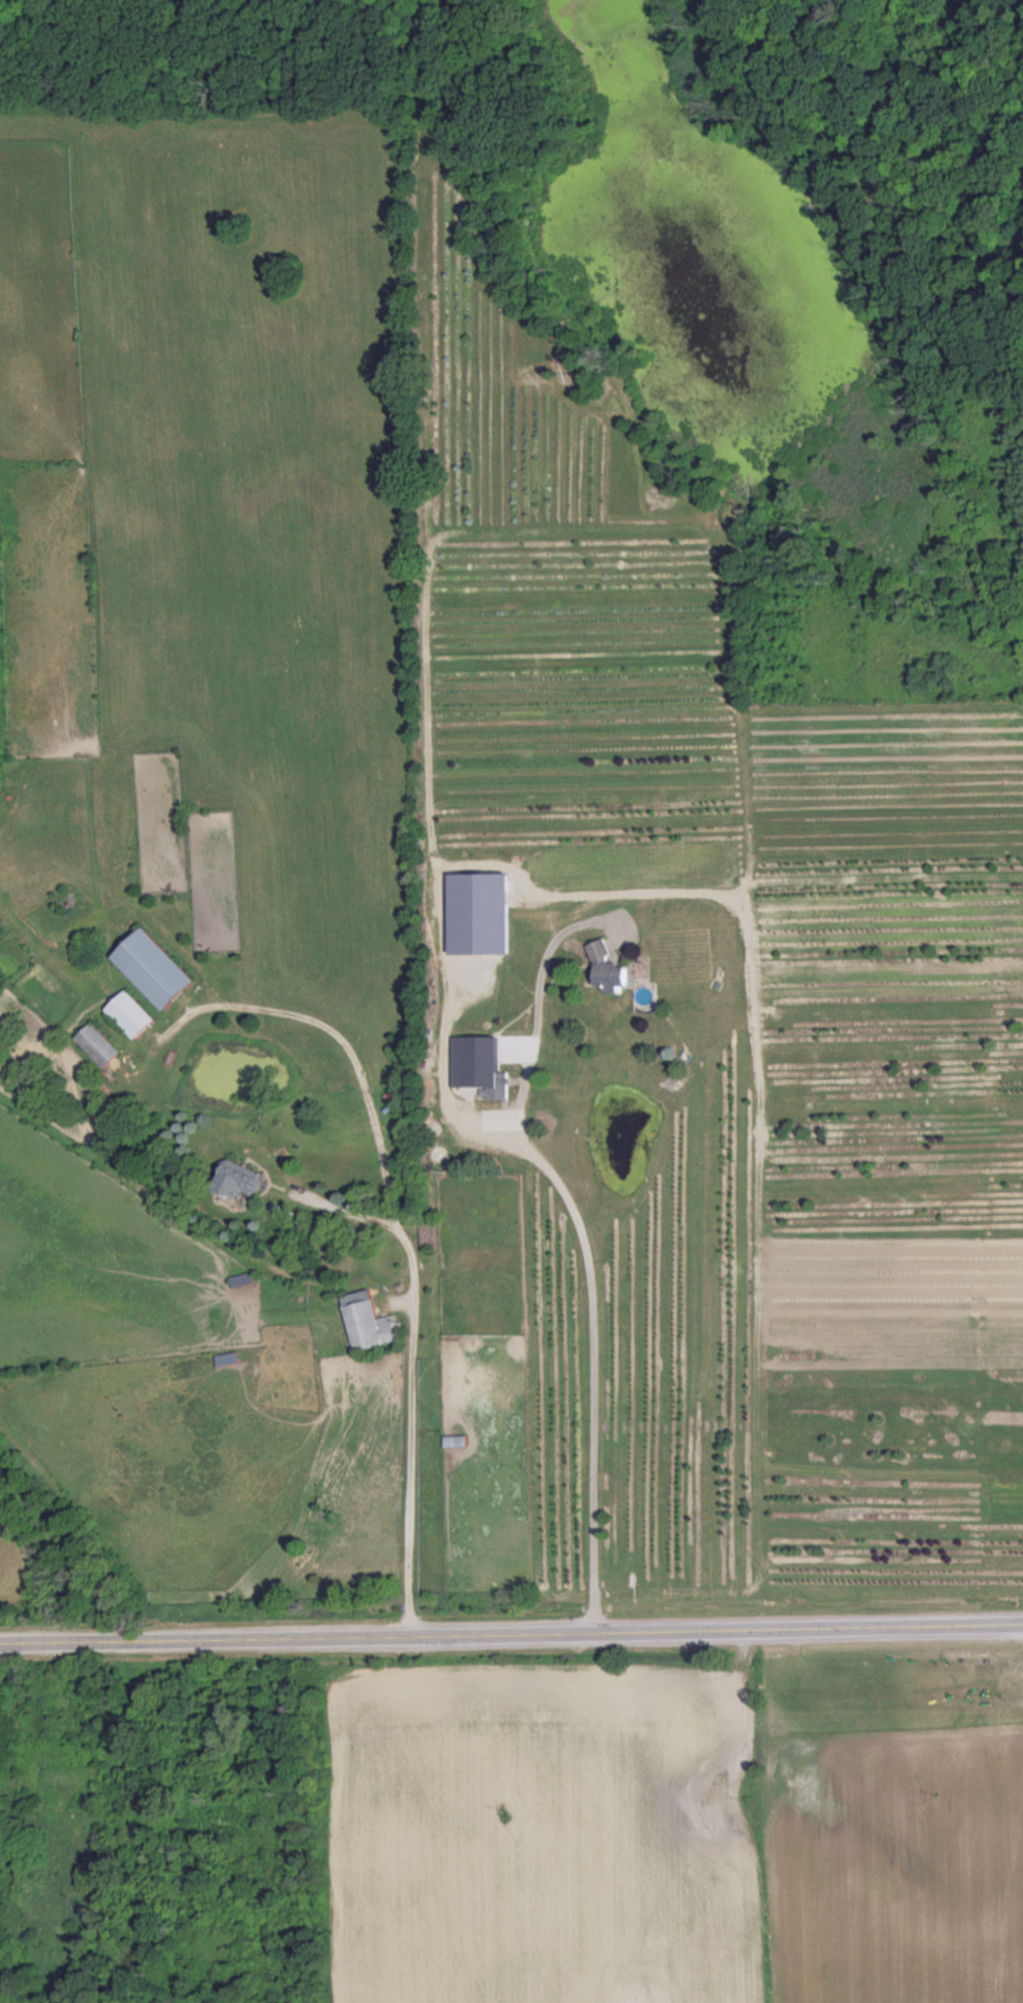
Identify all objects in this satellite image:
building: (609, 966)
building: (154, 967)
building: (130, 1013)
building: (99, 1043)
building: (479, 1063)
building: (241, 1178)
road: (349, 1203)
road: (405, 1231)
building: (429, 1232)
road: (584, 1243)
building: (368, 1321)
building: (457, 1440)
road: (511, 1635)
building: (1, 1886)

